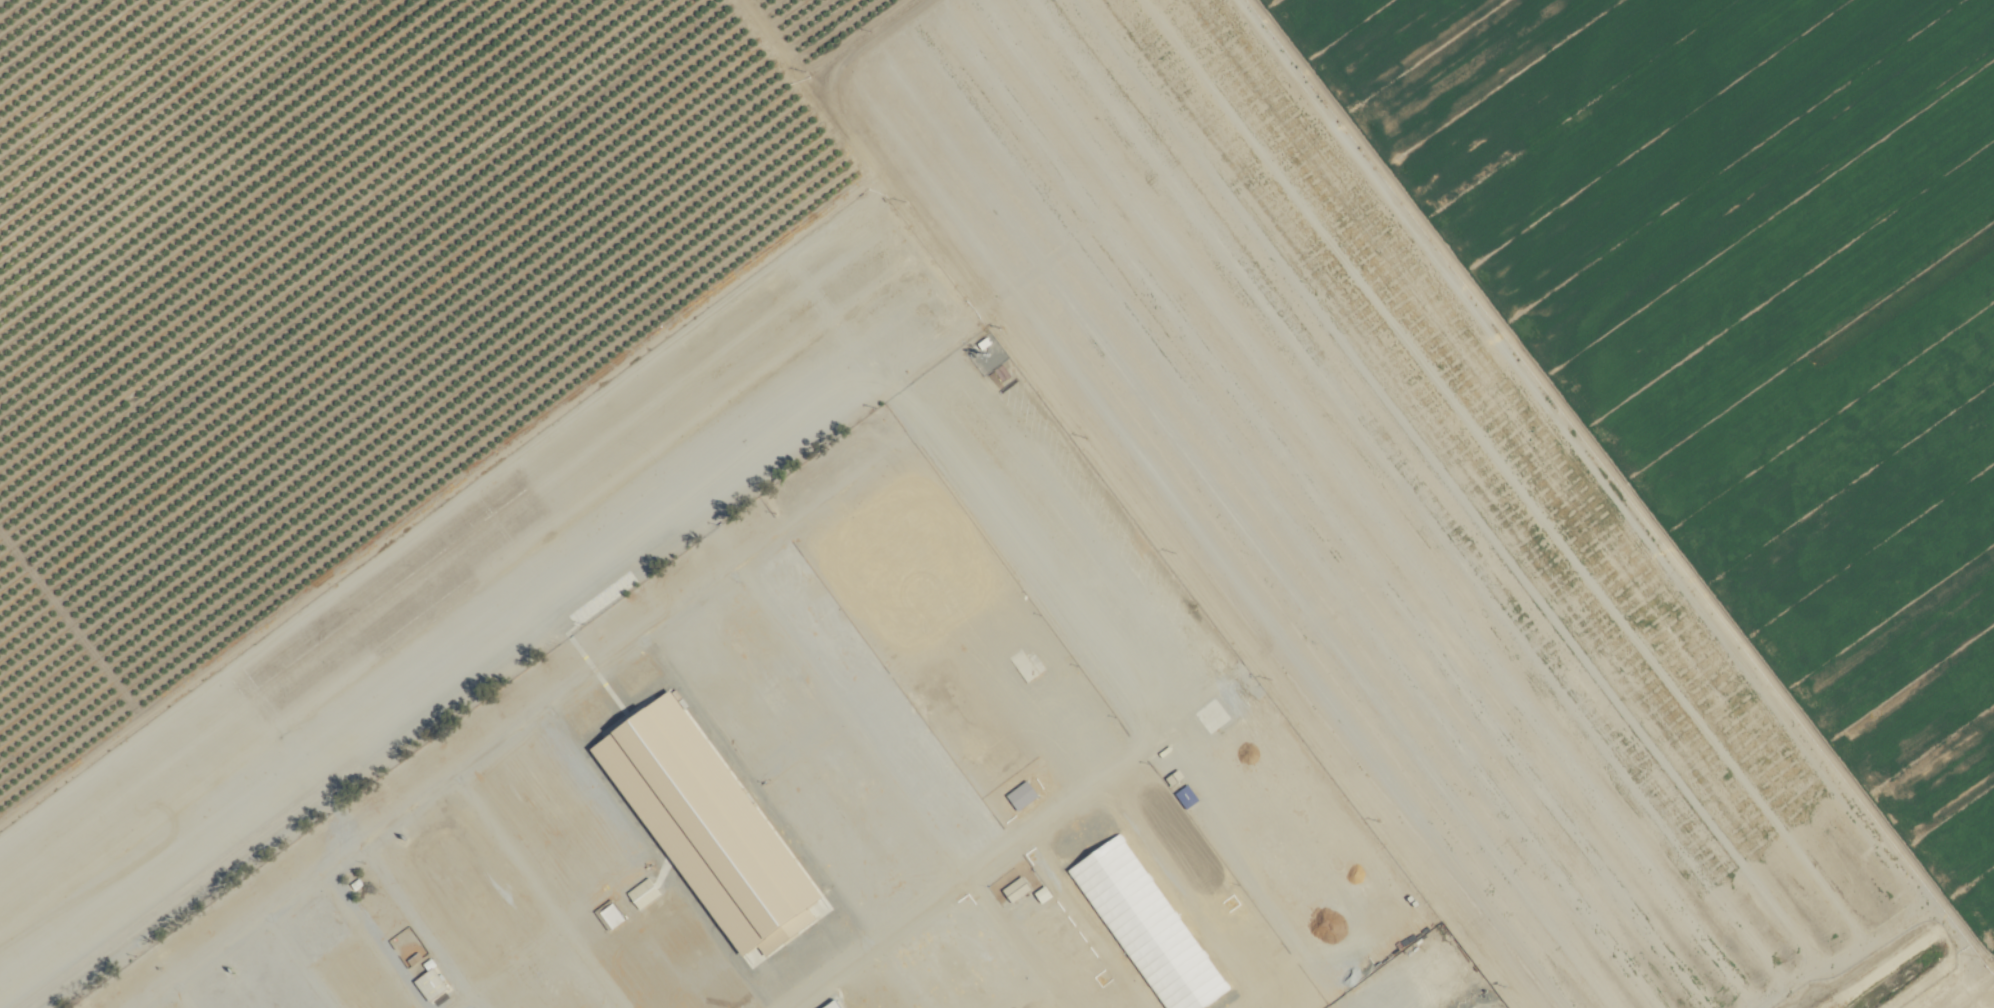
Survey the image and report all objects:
crop: (323, 254)
crop: (1707, 374)
crop: (1307, 505)
road: (468, 662)
building: (1185, 796)
building: (672, 824)
building: (1114, 880)
building: (1014, 889)
building: (641, 893)
road: (921, 915)
building: (1182, 972)
road: (916, 975)
building: (428, 984)
building: (830, 1004)

